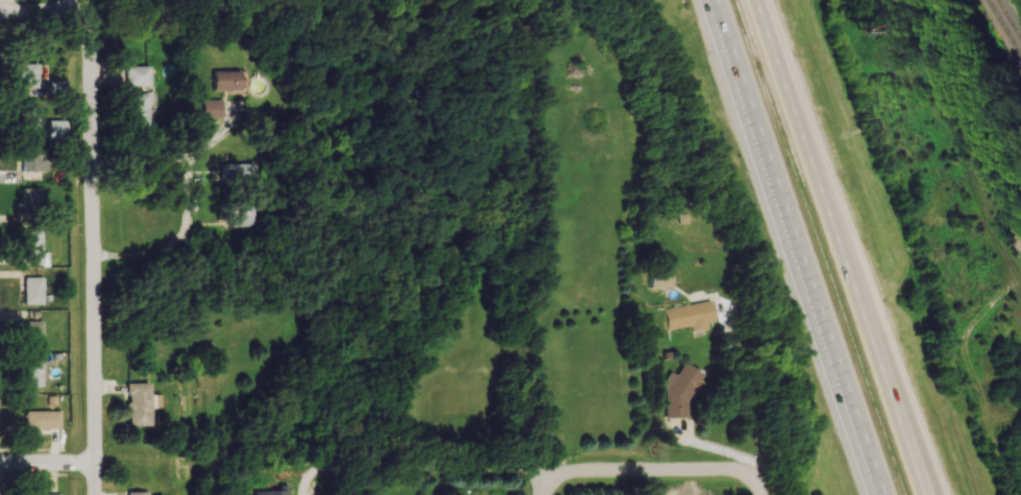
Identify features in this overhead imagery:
road: (69, 8)
road: (47, 16)
railway: (1008, 22)
railway: (1003, 30)
building: (27, 75)
building: (136, 75)
building: (227, 80)
building: (56, 85)
road: (789, 87)
building: (136, 108)
building: (211, 110)
building: (27, 118)
building: (55, 127)
road: (141, 154)
building: (27, 161)
building: (238, 170)
building: (29, 199)
road: (187, 204)
building: (241, 215)
building: (32, 247)
road: (794, 247)
road: (97, 255)
road: (547, 273)
building: (660, 278)
building: (32, 290)
building: (689, 315)
building: (31, 333)
road: (873, 334)
building: (31, 374)
building: (682, 389)
road: (749, 392)
building: (139, 403)
building: (41, 419)
road: (49, 465)
road: (374, 466)
road: (583, 472)
road: (551, 483)
road: (650, 484)
road: (760, 487)
building: (272, 491)
building: (136, 493)
building: (45, 494)

